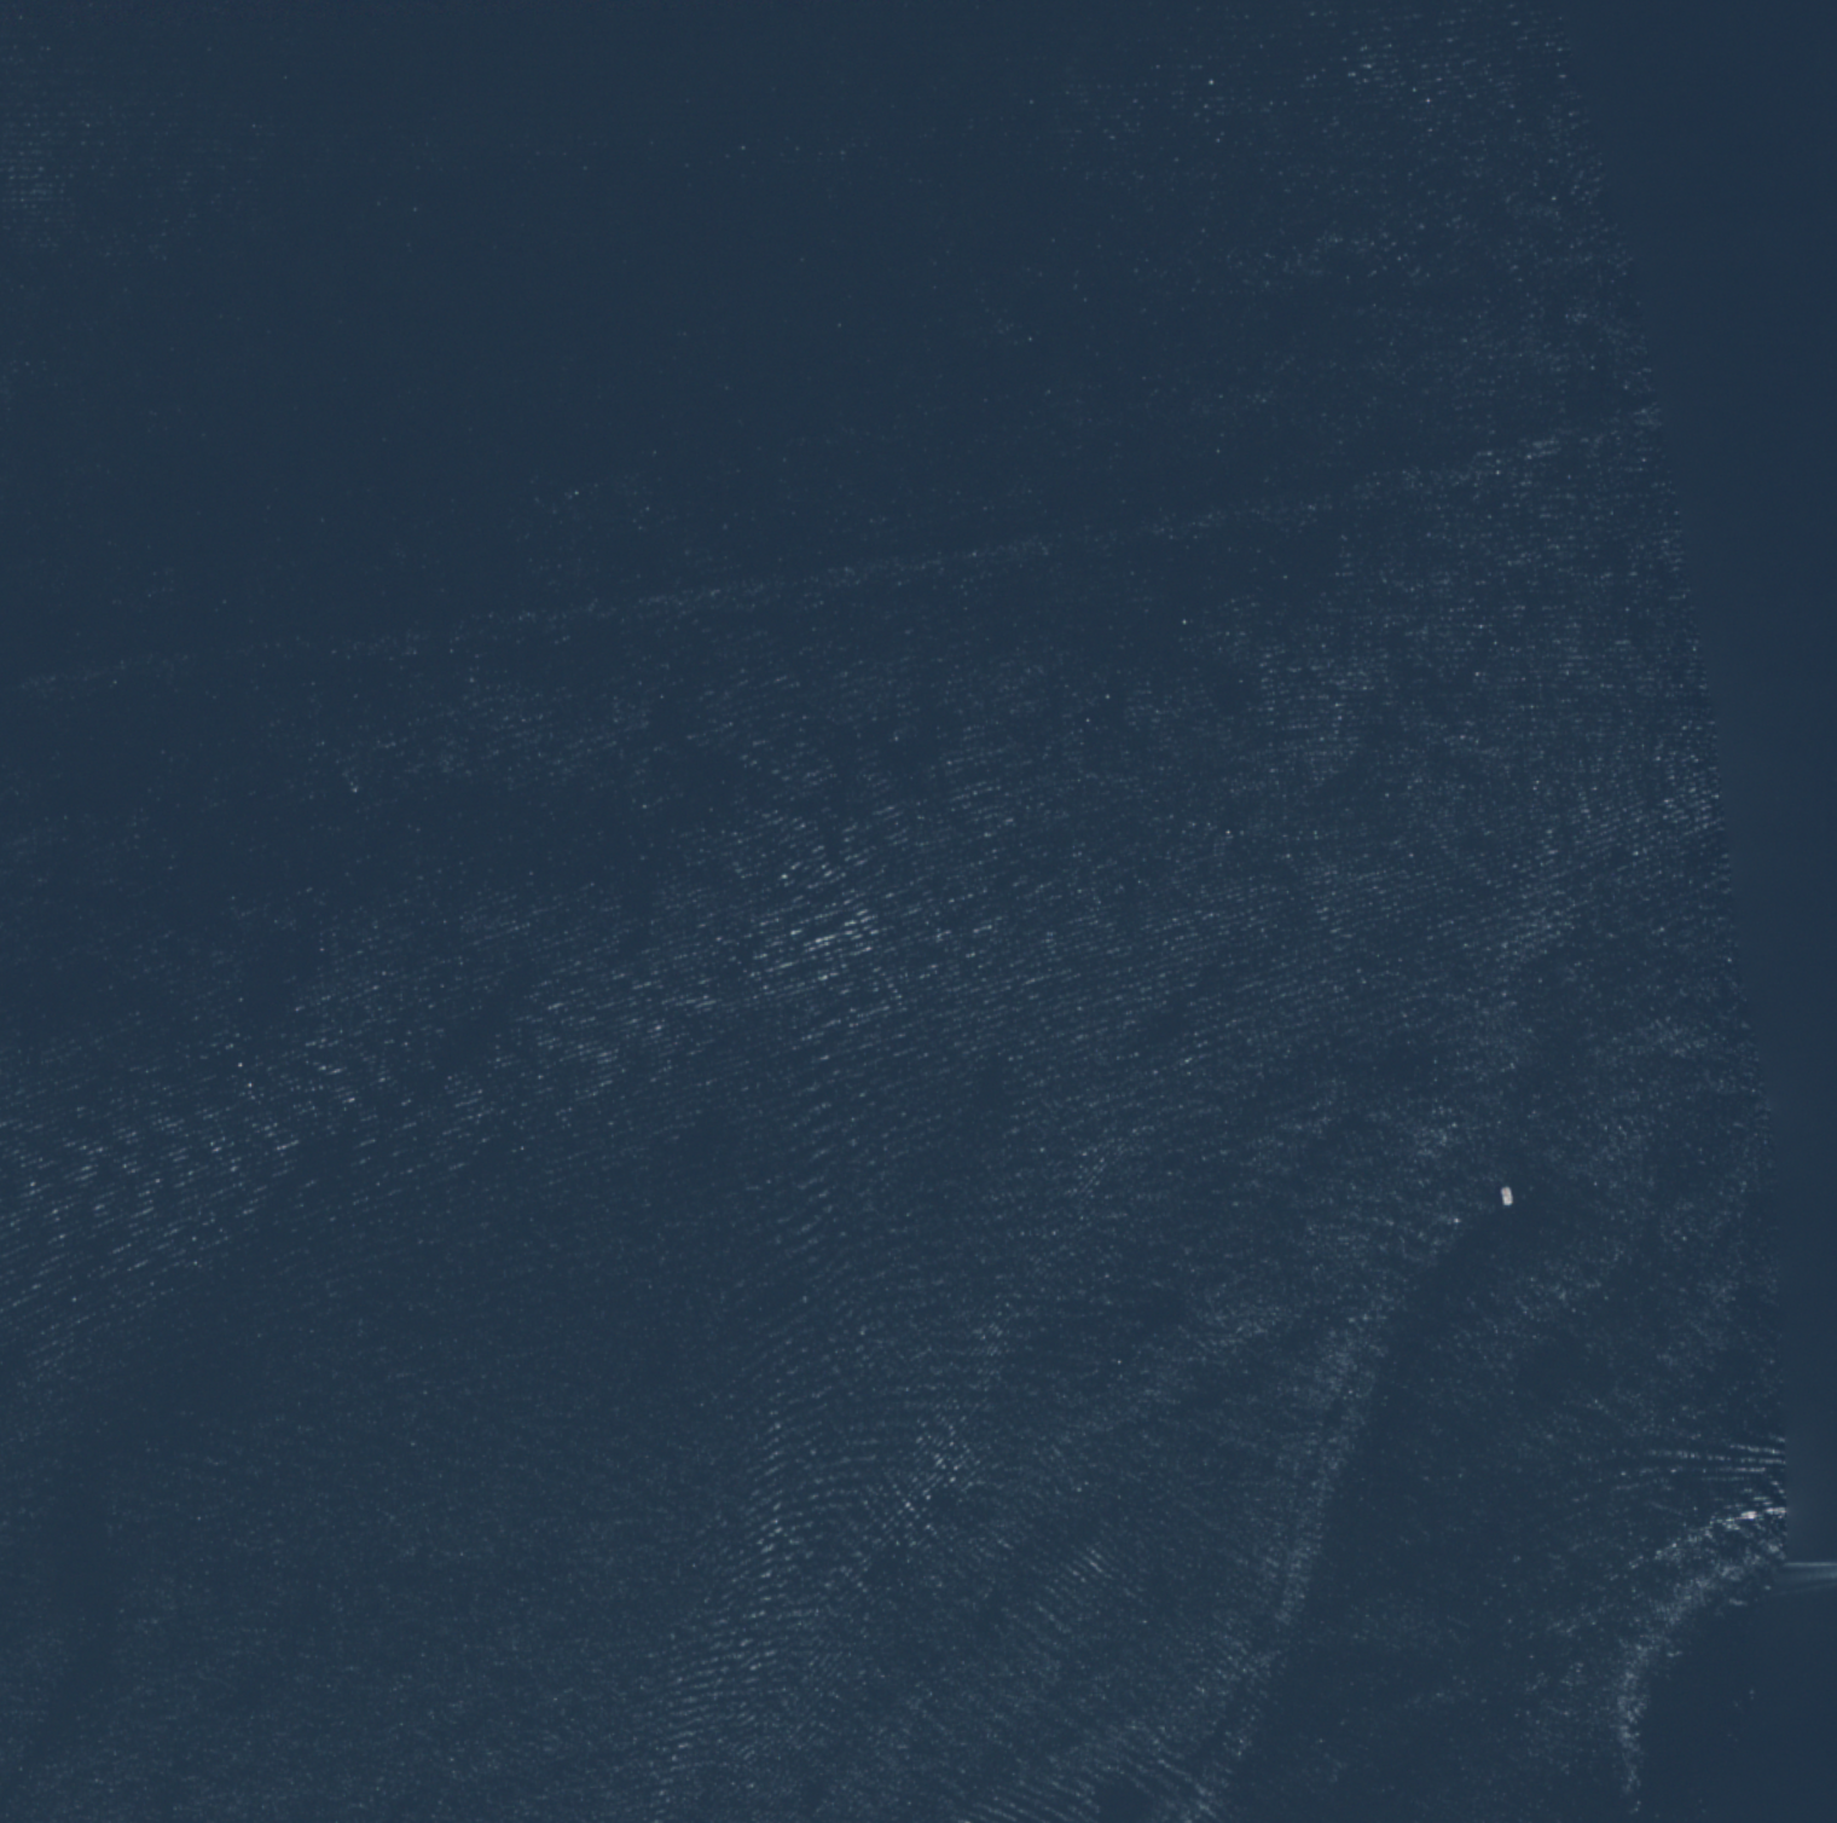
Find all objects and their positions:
river: (918, 1147)

